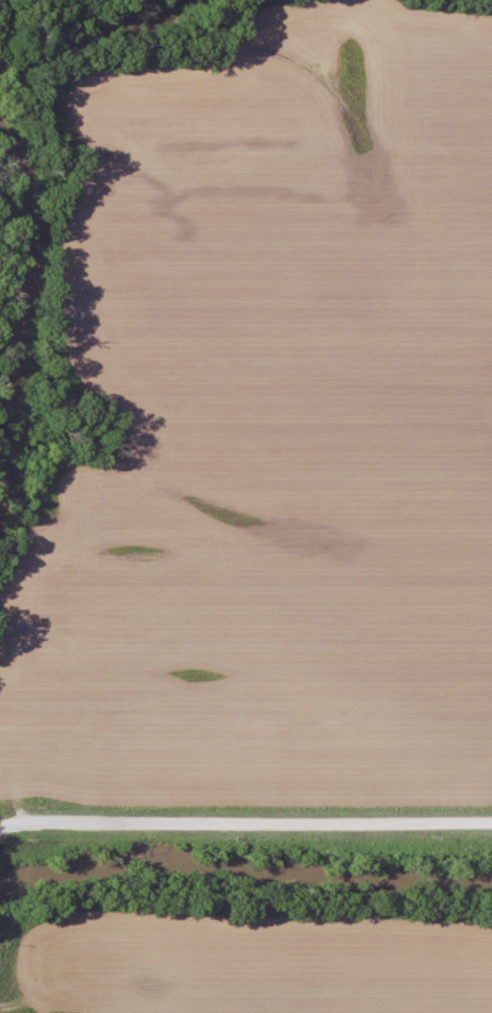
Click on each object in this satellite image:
river: (64, 43)
river: (25, 262)
road: (244, 819)
river: (243, 873)

